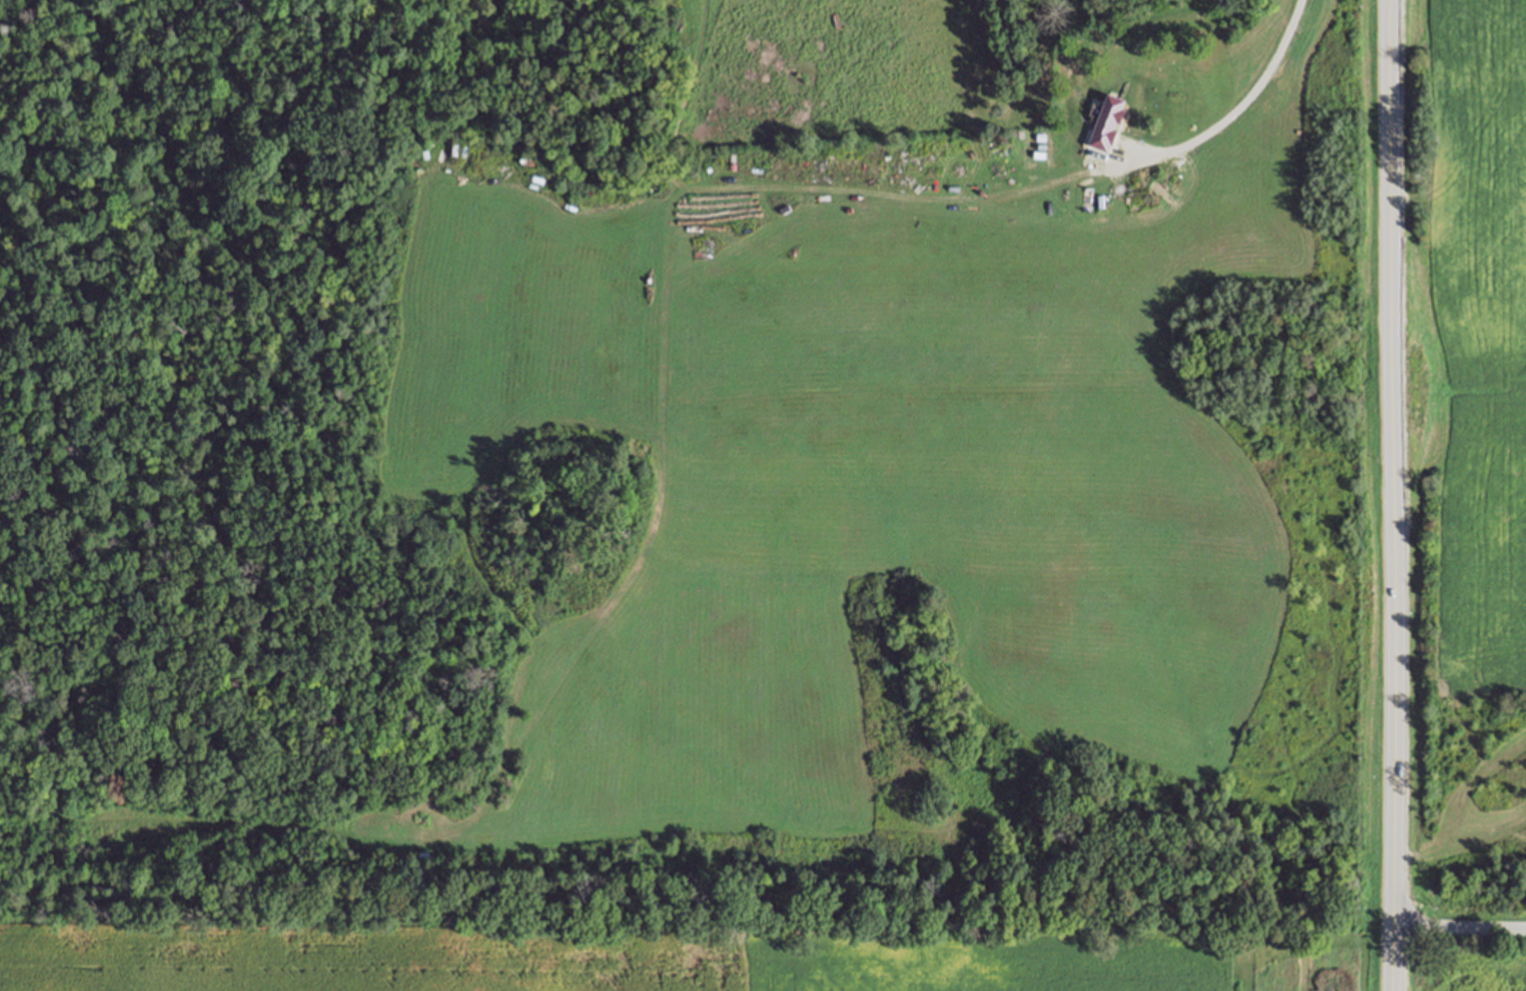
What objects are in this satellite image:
road: (1242, 102)
road: (1394, 495)
road: (1459, 928)

